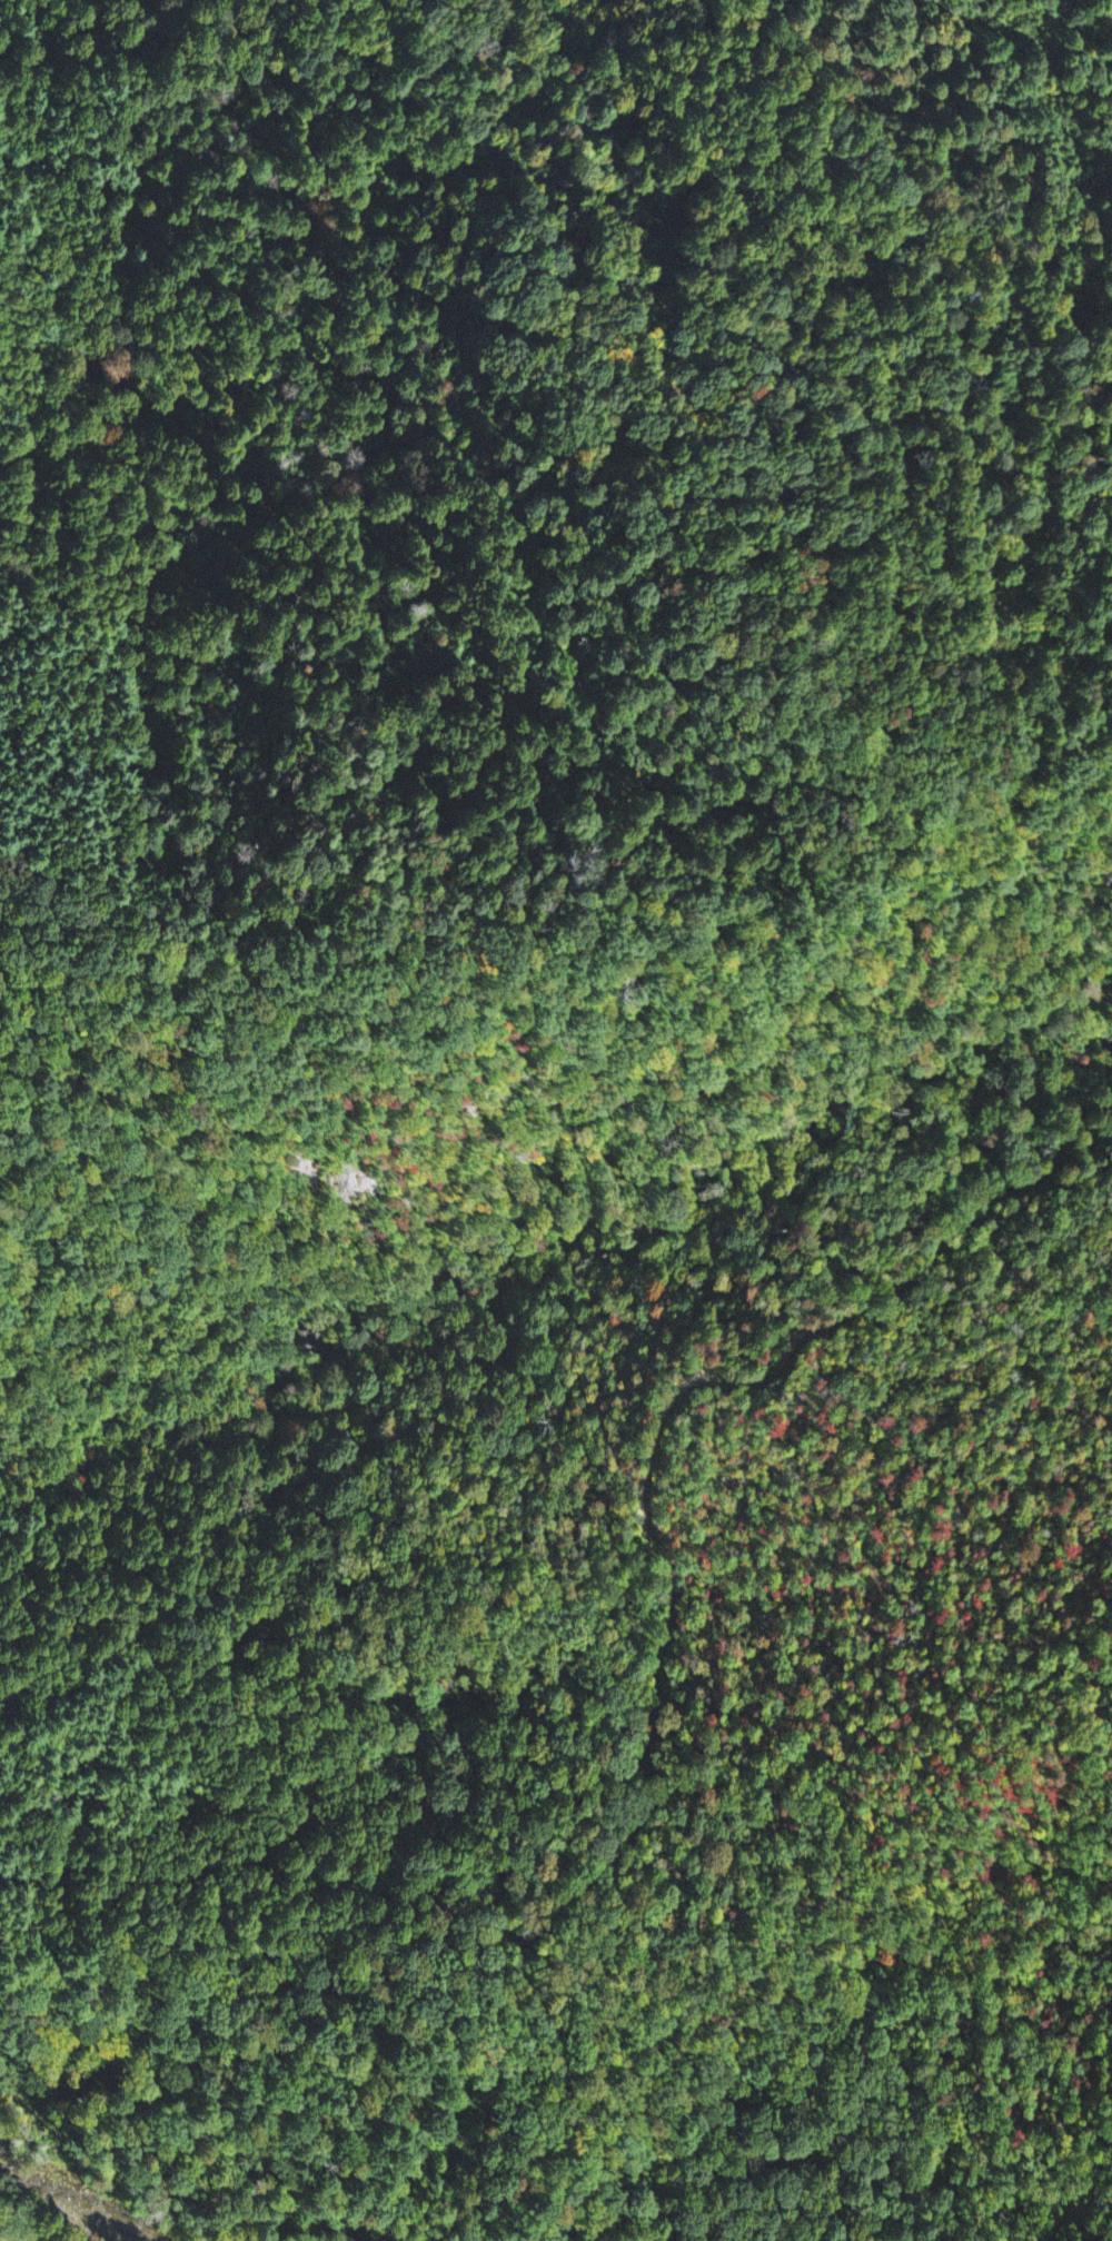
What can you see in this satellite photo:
road: (279, 1826)
road: (177, 2090)
river: (51, 2220)

